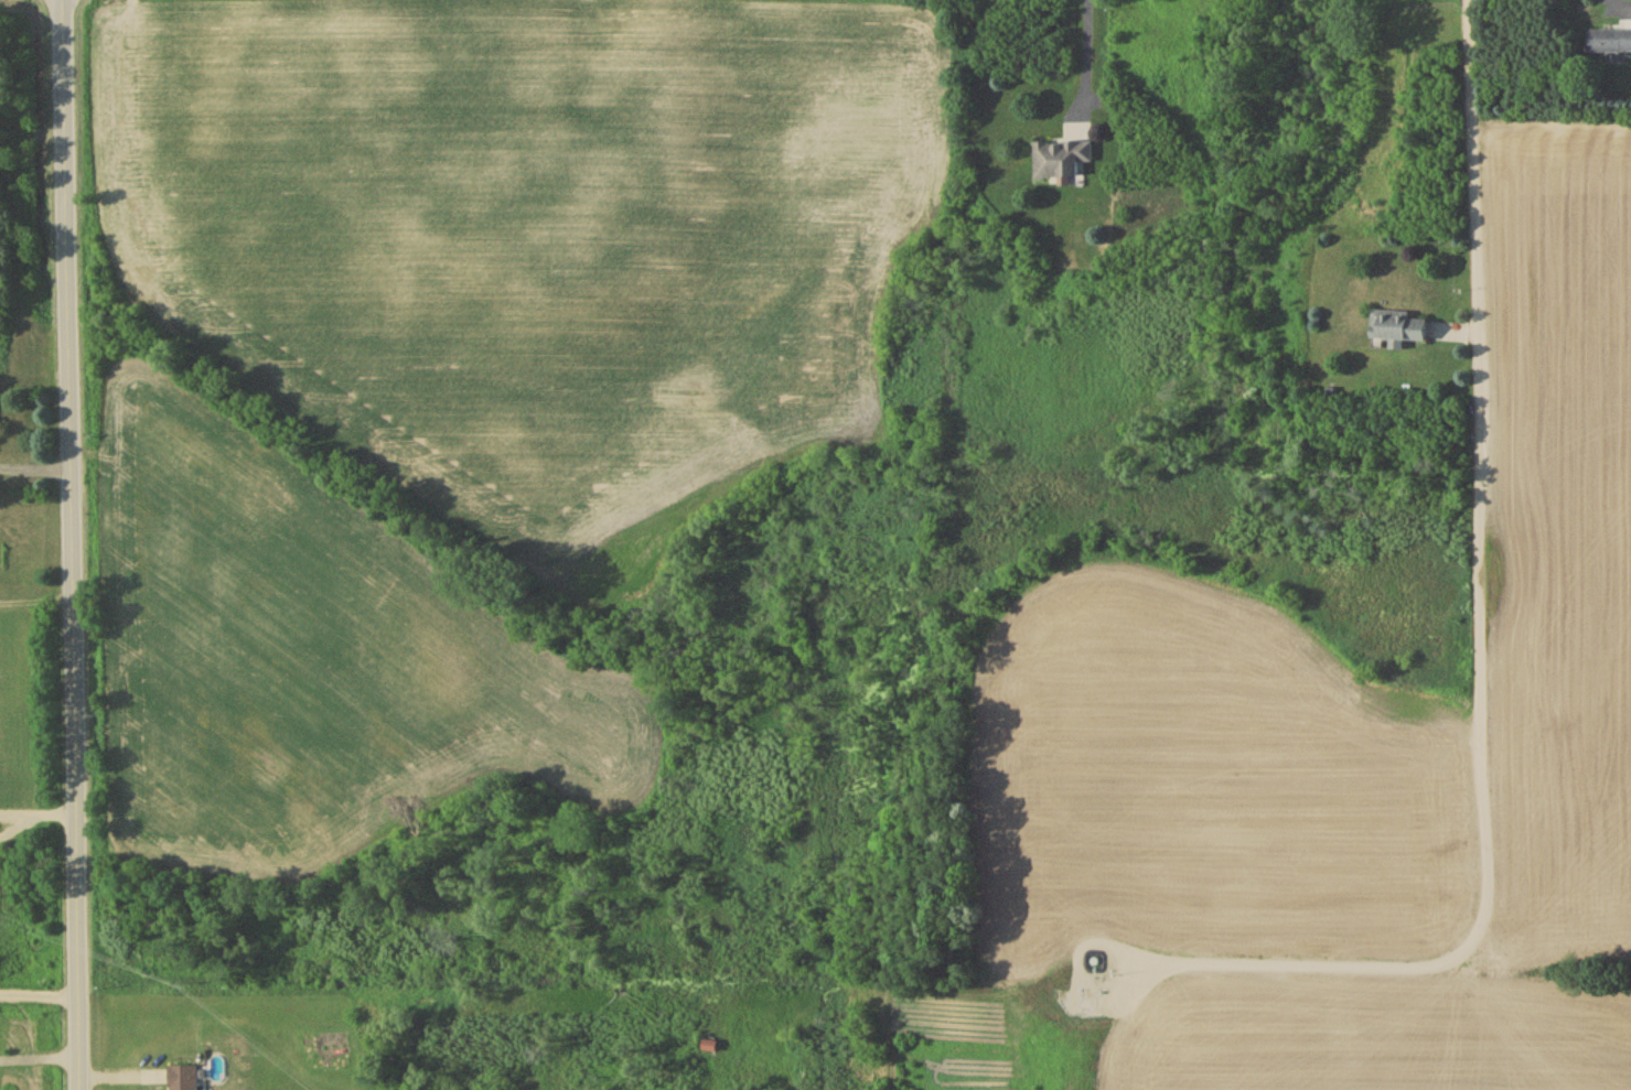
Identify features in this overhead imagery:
building: (1610, 44)
road: (1090, 55)
building: (1062, 161)
road: (34, 472)
road: (71, 544)
road: (35, 603)
road: (1455, 608)
road: (37, 812)
road: (7, 818)
road: (40, 992)
building: (710, 1048)
road: (41, 1060)
building: (186, 1079)

